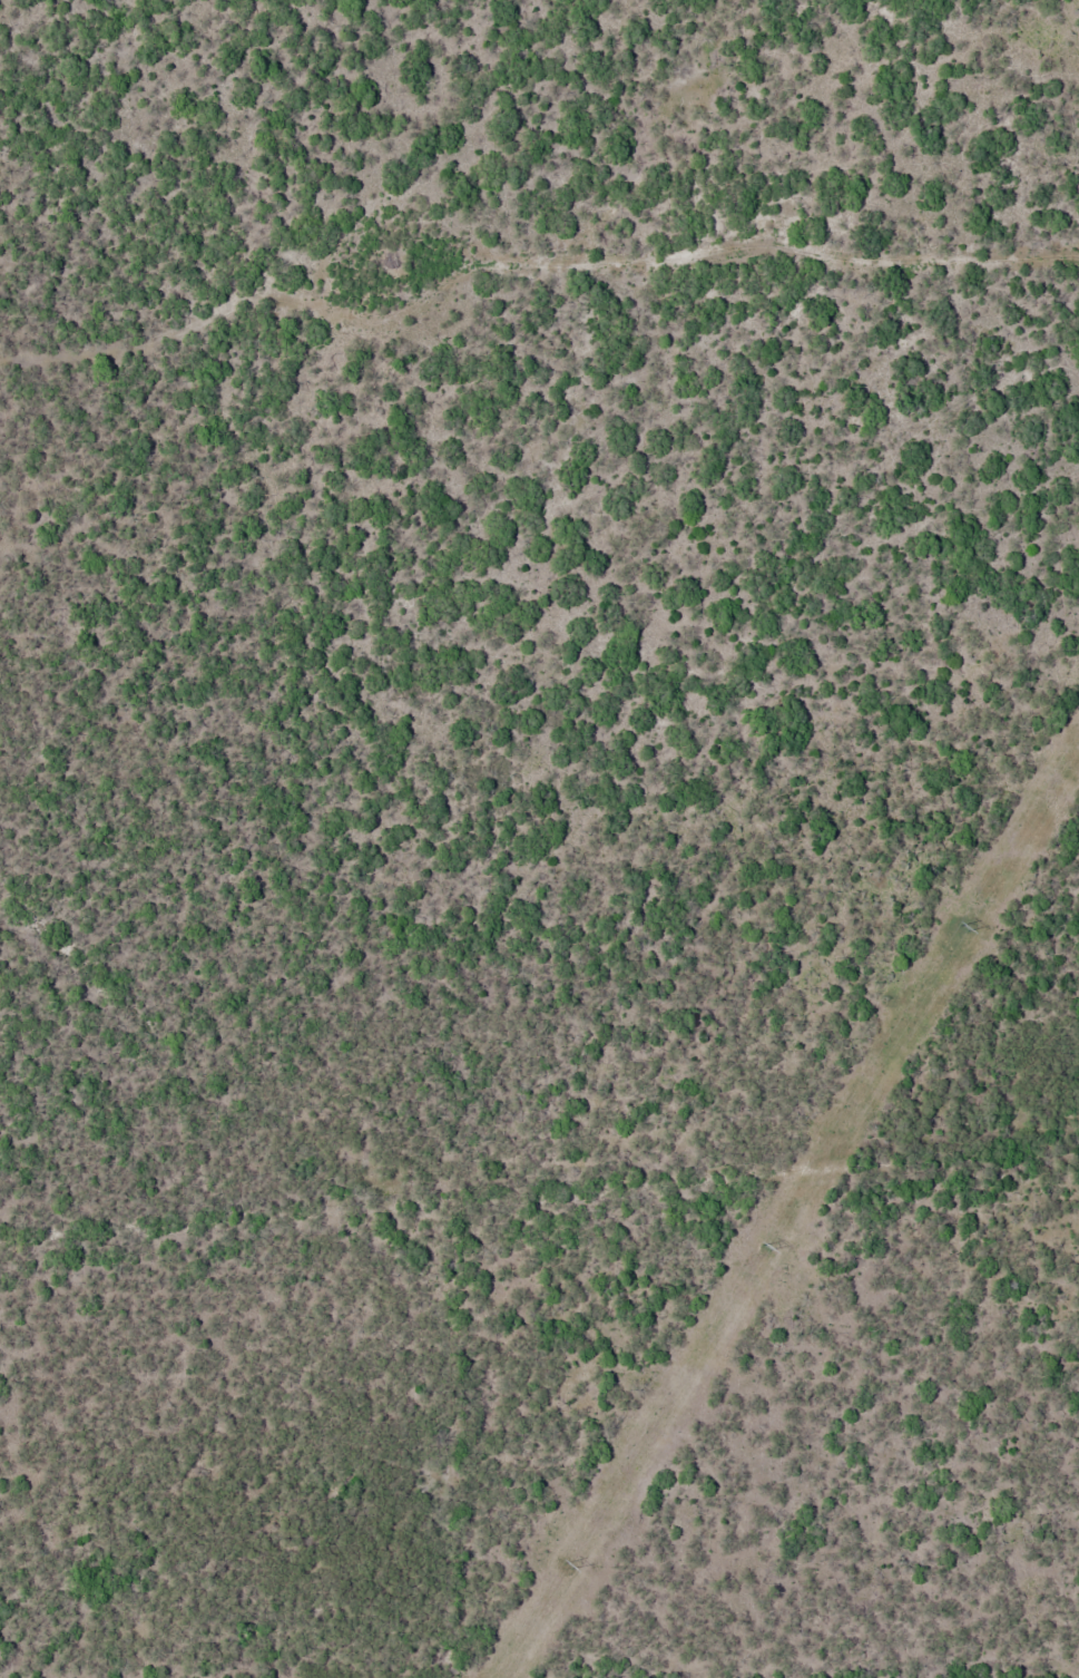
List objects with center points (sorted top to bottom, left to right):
road: (795, 286)
power tower: (960, 928)
power tower: (763, 1245)
power tower: (565, 1562)

